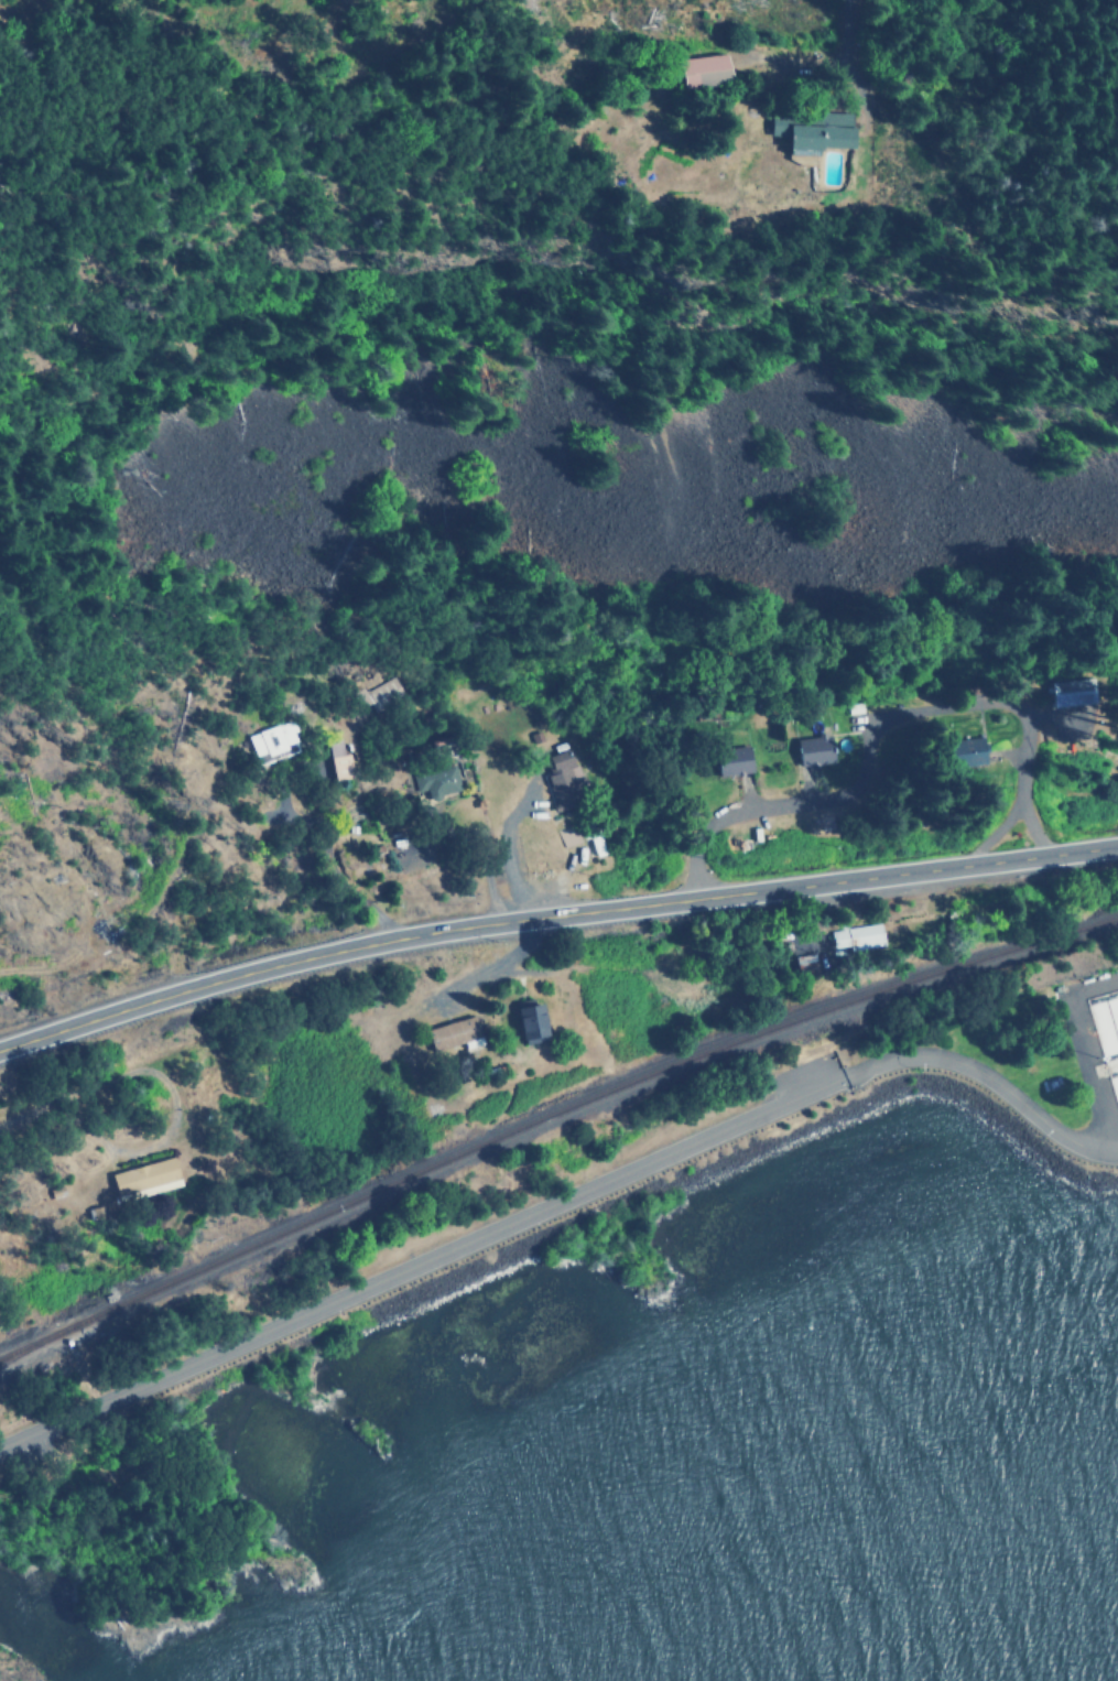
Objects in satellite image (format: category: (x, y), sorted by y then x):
road: (855, 116)
road: (875, 727)
road: (552, 918)
road: (506, 963)
parking lot: (804, 1077)
road: (67, 1107)
railway: (551, 1116)
road: (562, 1201)
railway: (28, 1343)
parking lot: (22, 1453)

